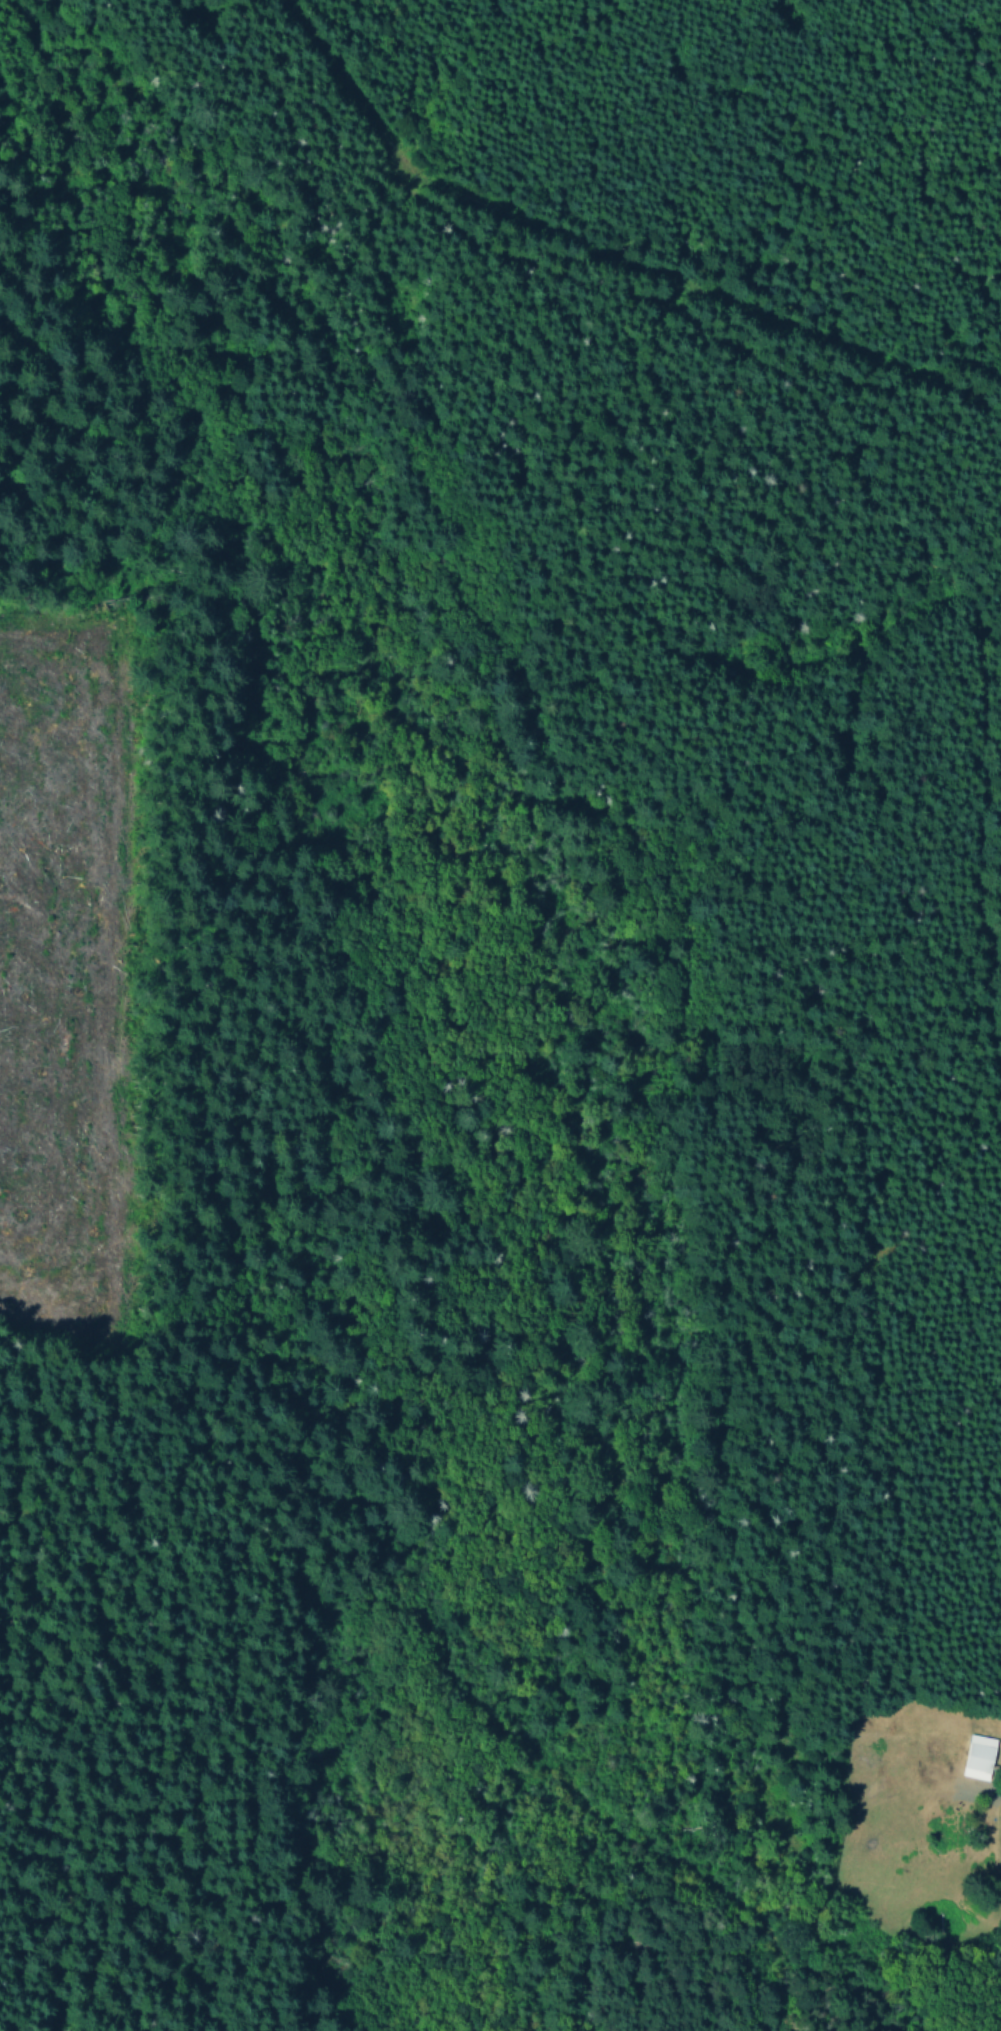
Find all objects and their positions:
road: (916, 499)
road: (114, 956)
road: (2, 1243)
road: (499, 1716)
road: (27, 1747)
building: (979, 1756)

